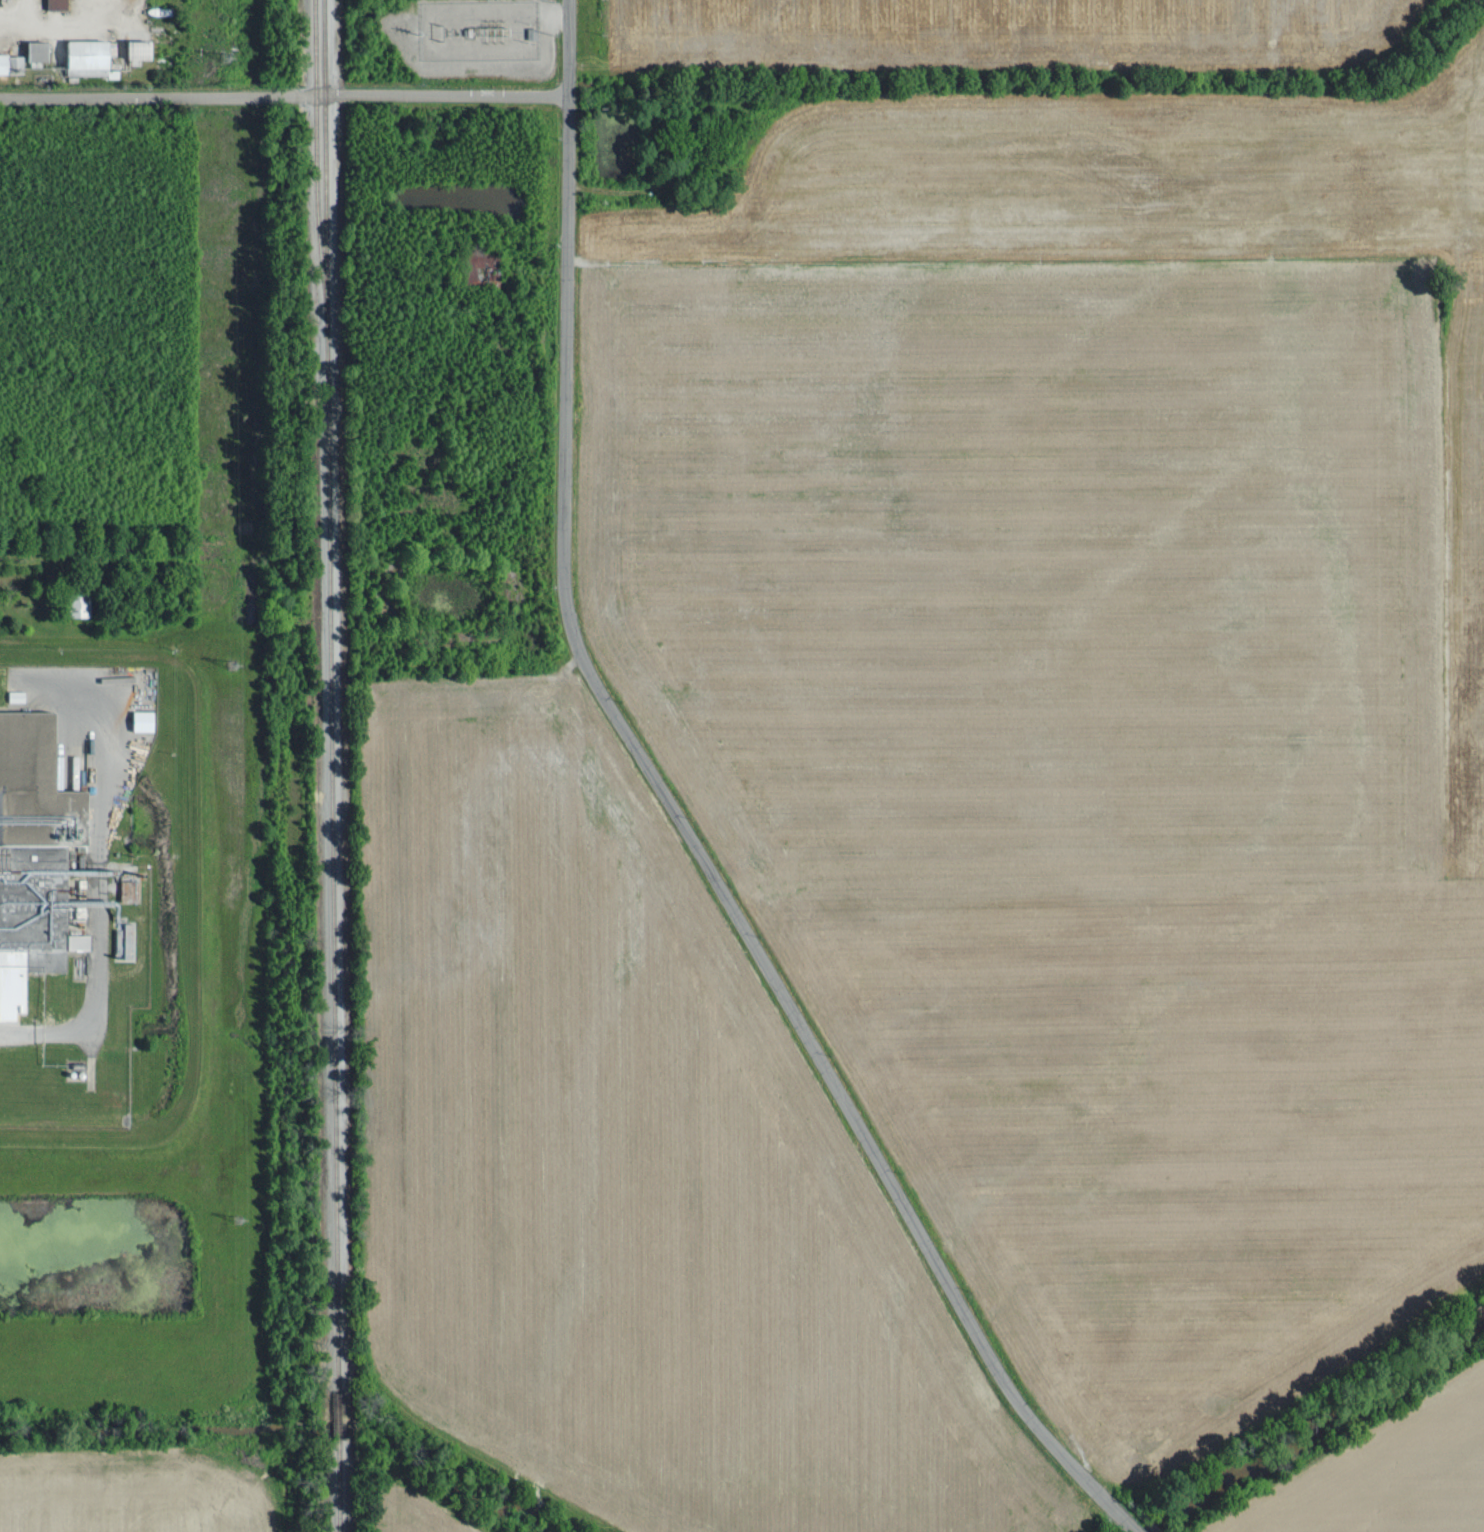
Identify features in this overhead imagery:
building: (60, 3)
road: (568, 46)
building: (143, 49)
building: (26, 55)
building: (95, 55)
road: (284, 98)
building: (475, 267)
building: (18, 694)
building: (145, 718)
railway: (331, 766)
road: (704, 859)
building: (130, 888)
building: (83, 939)

